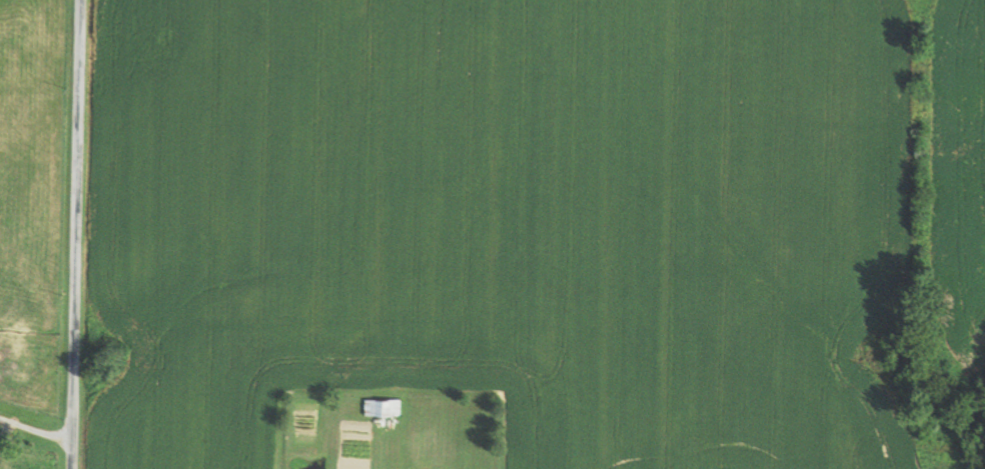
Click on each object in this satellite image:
road: (77, 234)
building: (386, 407)
building: (477, 420)
road: (36, 431)

